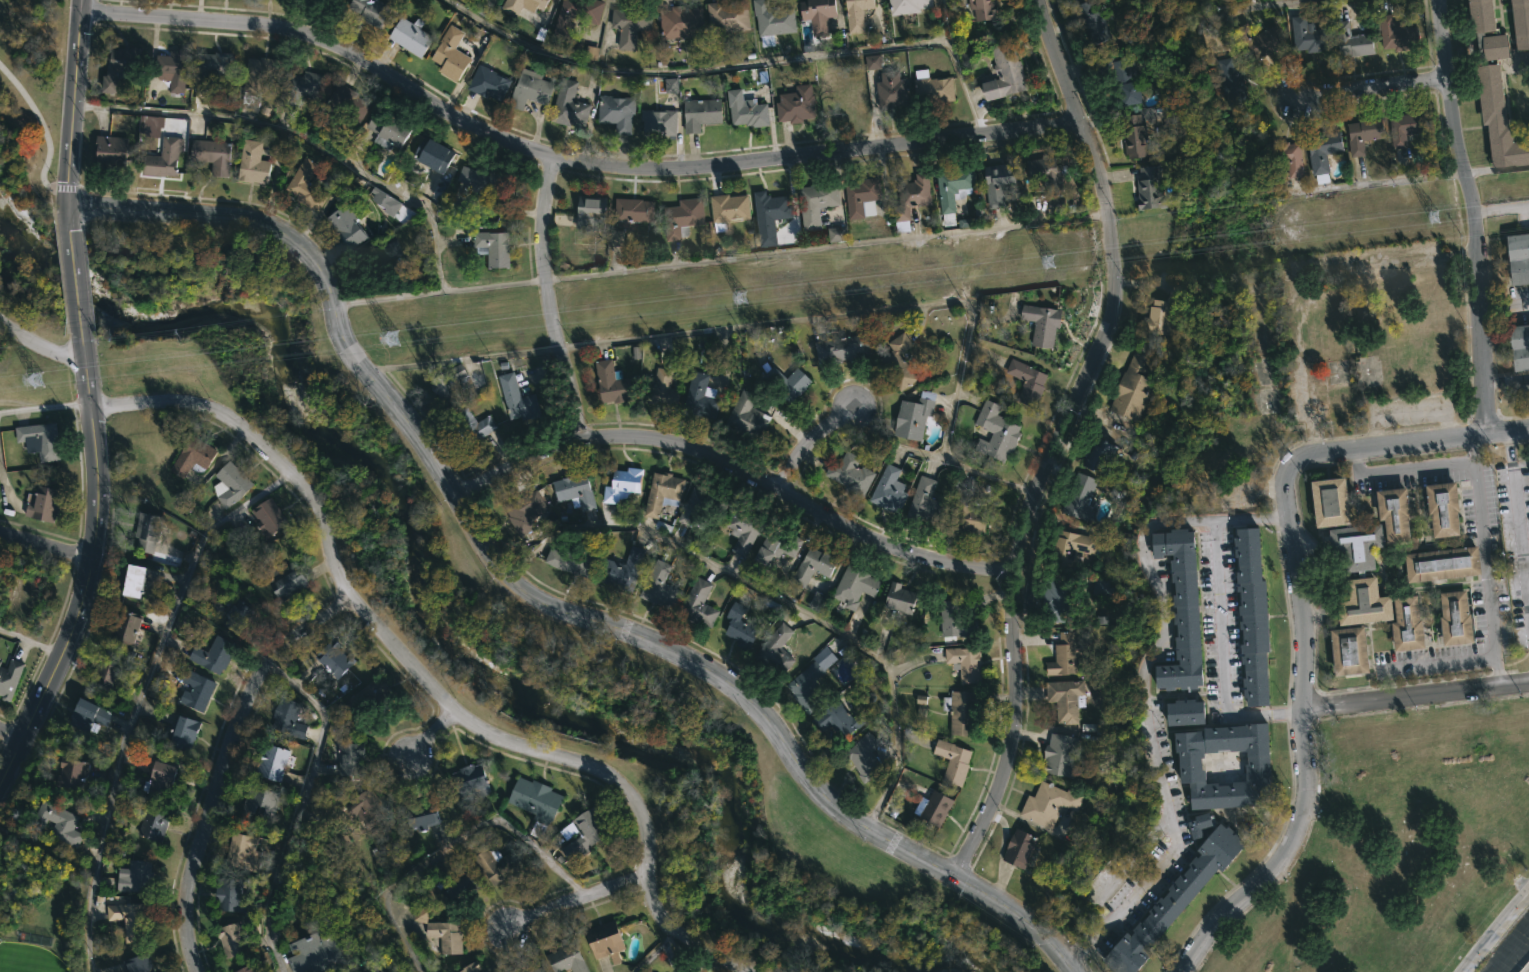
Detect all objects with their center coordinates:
building: (328, 2)
building: (522, 6)
building: (908, 6)
road: (1248, 6)
building: (983, 9)
building: (369, 10)
building: (818, 14)
building: (857, 14)
building: (576, 15)
building: (1480, 15)
building: (726, 19)
building: (772, 21)
building: (1093, 22)
building: (680, 23)
building: (1520, 23)
building: (630, 25)
building: (1395, 30)
building: (411, 36)
building: (1309, 36)
building: (1352, 41)
building: (1258, 42)
building: (1494, 46)
building: (591, 53)
building: (450, 55)
building: (872, 62)
road: (706, 64)
building: (119, 66)
building: (172, 69)
building: (212, 70)
building: (1005, 73)
building: (258, 78)
building: (1127, 82)
building: (488, 83)
road: (964, 84)
building: (1231, 84)
building: (671, 85)
building: (530, 88)
road: (1370, 88)
building: (301, 89)
building: (932, 89)
building: (892, 92)
road: (71, 102)
building: (346, 104)
building: (796, 105)
building: (569, 106)
park: (24, 110)
building: (746, 110)
building: (617, 112)
building: (700, 114)
building: (657, 119)
building: (1497, 120)
building: (1407, 128)
building: (388, 131)
road: (43, 132)
road: (298, 133)
building: (1364, 134)
building: (1134, 137)
building: (109, 149)
building: (1323, 153)
building: (212, 156)
building: (433, 156)
building: (163, 157)
building: (1285, 158)
road: (564, 159)
park: (29, 160)
building: (252, 163)
road: (1497, 169)
building: (1045, 177)
building: (487, 181)
road: (1379, 182)
building: (999, 184)
building: (305, 187)
building: (1150, 189)
building: (952, 191)
building: (862, 198)
building: (911, 199)
building: (384, 201)
building: (816, 203)
building: (1055, 204)
building: (729, 210)
road: (1501, 210)
building: (633, 211)
building: (590, 212)
building: (770, 215)
road: (1474, 216)
building: (682, 217)
power tower: (1420, 219)
road: (66, 222)
building: (346, 226)
building: (836, 234)
building: (493, 247)
building: (382, 255)
road: (721, 258)
building: (1518, 259)
power tower: (1038, 261)
road: (75, 290)
power tower: (732, 297)
road: (549, 299)
road: (1513, 304)
road: (1489, 308)
building: (1163, 313)
building: (1042, 323)
power tower: (388, 335)
road: (42, 346)
building: (1519, 346)
building: (842, 348)
road: (83, 355)
building: (898, 362)
power tower: (48, 377)
road: (1519, 377)
road: (1499, 379)
building: (1027, 381)
building: (611, 382)
building: (787, 382)
building: (1134, 384)
building: (449, 385)
road: (86, 388)
building: (663, 389)
building: (1522, 392)
building: (700, 397)
building: (516, 399)
road: (43, 407)
building: (914, 415)
building: (747, 416)
building: (471, 425)
building: (996, 432)
road: (1057, 438)
building: (39, 440)
road: (809, 444)
road: (1507, 446)
building: (1099, 455)
building: (191, 456)
road: (1404, 469)
road: (736, 473)
building: (850, 473)
building: (229, 484)
building: (622, 484)
building: (576, 489)
building: (889, 490)
building: (662, 492)
building: (1080, 497)
building: (926, 501)
building: (1329, 503)
building: (41, 504)
building: (693, 507)
building: (1442, 508)
building: (522, 511)
building: (967, 513)
building: (1393, 514)
building: (269, 515)
building: (743, 529)
building: (147, 531)
road: (481, 541)
road: (1518, 544)
building: (777, 545)
building: (1073, 545)
building: (1356, 545)
road: (45, 547)
building: (574, 560)
road: (1483, 562)
building: (1441, 564)
road: (1525, 564)
building: (813, 566)
building: (622, 570)
building: (133, 580)
building: (285, 581)
building: (659, 587)
building: (855, 587)
building: (1101, 588)
road: (772, 596)
building: (899, 599)
building: (1057, 600)
building: (817, 602)
road: (80, 603)
building: (697, 605)
building: (1183, 611)
building: (1379, 613)
building: (232, 615)
building: (1252, 616)
road: (1300, 618)
building: (1453, 618)
building: (955, 623)
building: (125, 626)
park: (531, 626)
building: (739, 627)
road: (32, 636)
building: (775, 648)
building: (1348, 650)
road: (1220, 653)
building: (1067, 654)
building: (214, 657)
building: (333, 658)
building: (965, 663)
road: (1438, 665)
road: (419, 674)
building: (102, 675)
building: (8, 678)
building: (804, 683)
building: (194, 690)
road: (1143, 690)
building: (370, 692)
road: (1416, 698)
building: (1066, 699)
road: (141, 700)
building: (962, 712)
building: (1186, 712)
building: (88, 713)
building: (287, 718)
building: (837, 720)
building: (179, 732)
road: (429, 735)
road: (11, 736)
building: (1061, 756)
building: (865, 758)
building: (349, 760)
road: (224, 761)
building: (273, 761)
building: (953, 762)
building: (1258, 767)
building: (70, 774)
building: (157, 779)
building: (468, 786)
building: (261, 801)
building: (534, 802)
road: (298, 803)
building: (1049, 804)
building: (934, 808)
building: (364, 810)
building: (420, 816)
building: (56, 823)
building: (151, 825)
building: (1200, 825)
building: (585, 833)
road: (449, 846)
building: (1019, 848)
building: (242, 853)
building: (496, 865)
road: (1119, 869)
building: (135, 877)
building: (459, 889)
building: (229, 896)
road: (578, 900)
building: (1175, 901)
building: (293, 914)
building: (419, 915)
road: (1018, 919)
building: (129, 921)
road: (1494, 930)
building: (445, 936)
building: (603, 939)
building: (230, 940)
building: (315, 954)
building: (565, 958)
building: (137, 964)
building: (470, 967)
building: (248, 969)
building: (535, 970)
building: (258, 971)
building: (644, 971)

